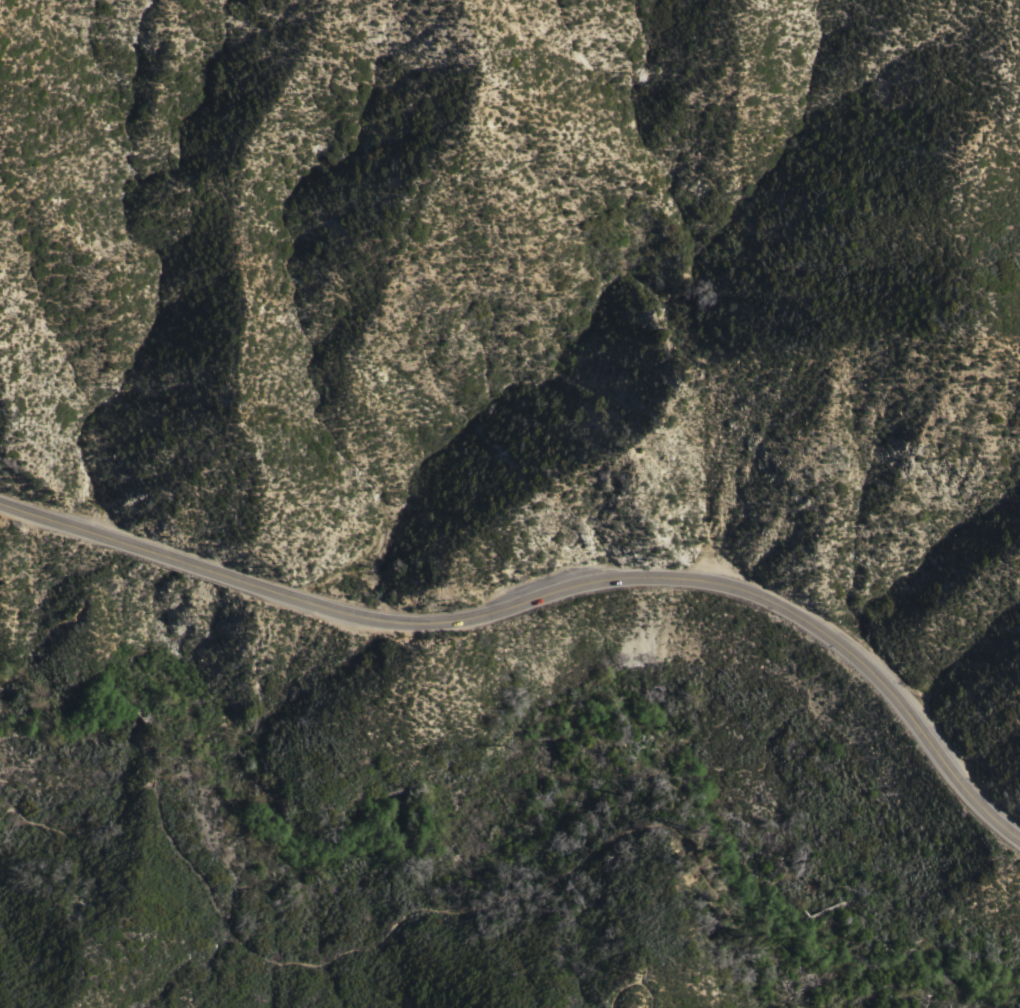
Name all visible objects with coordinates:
road: (550, 597)
road: (385, 936)
road: (630, 982)

